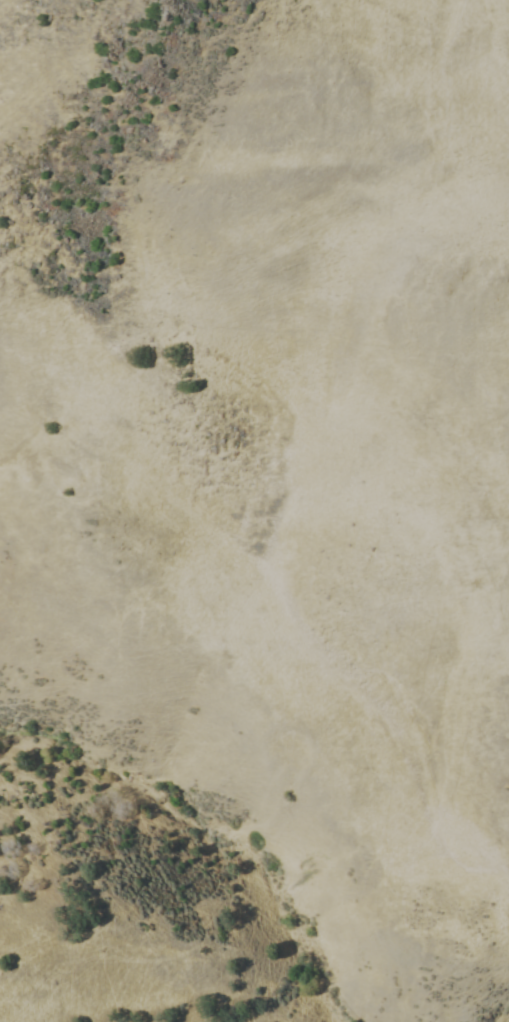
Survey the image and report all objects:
park: (487, 999)

